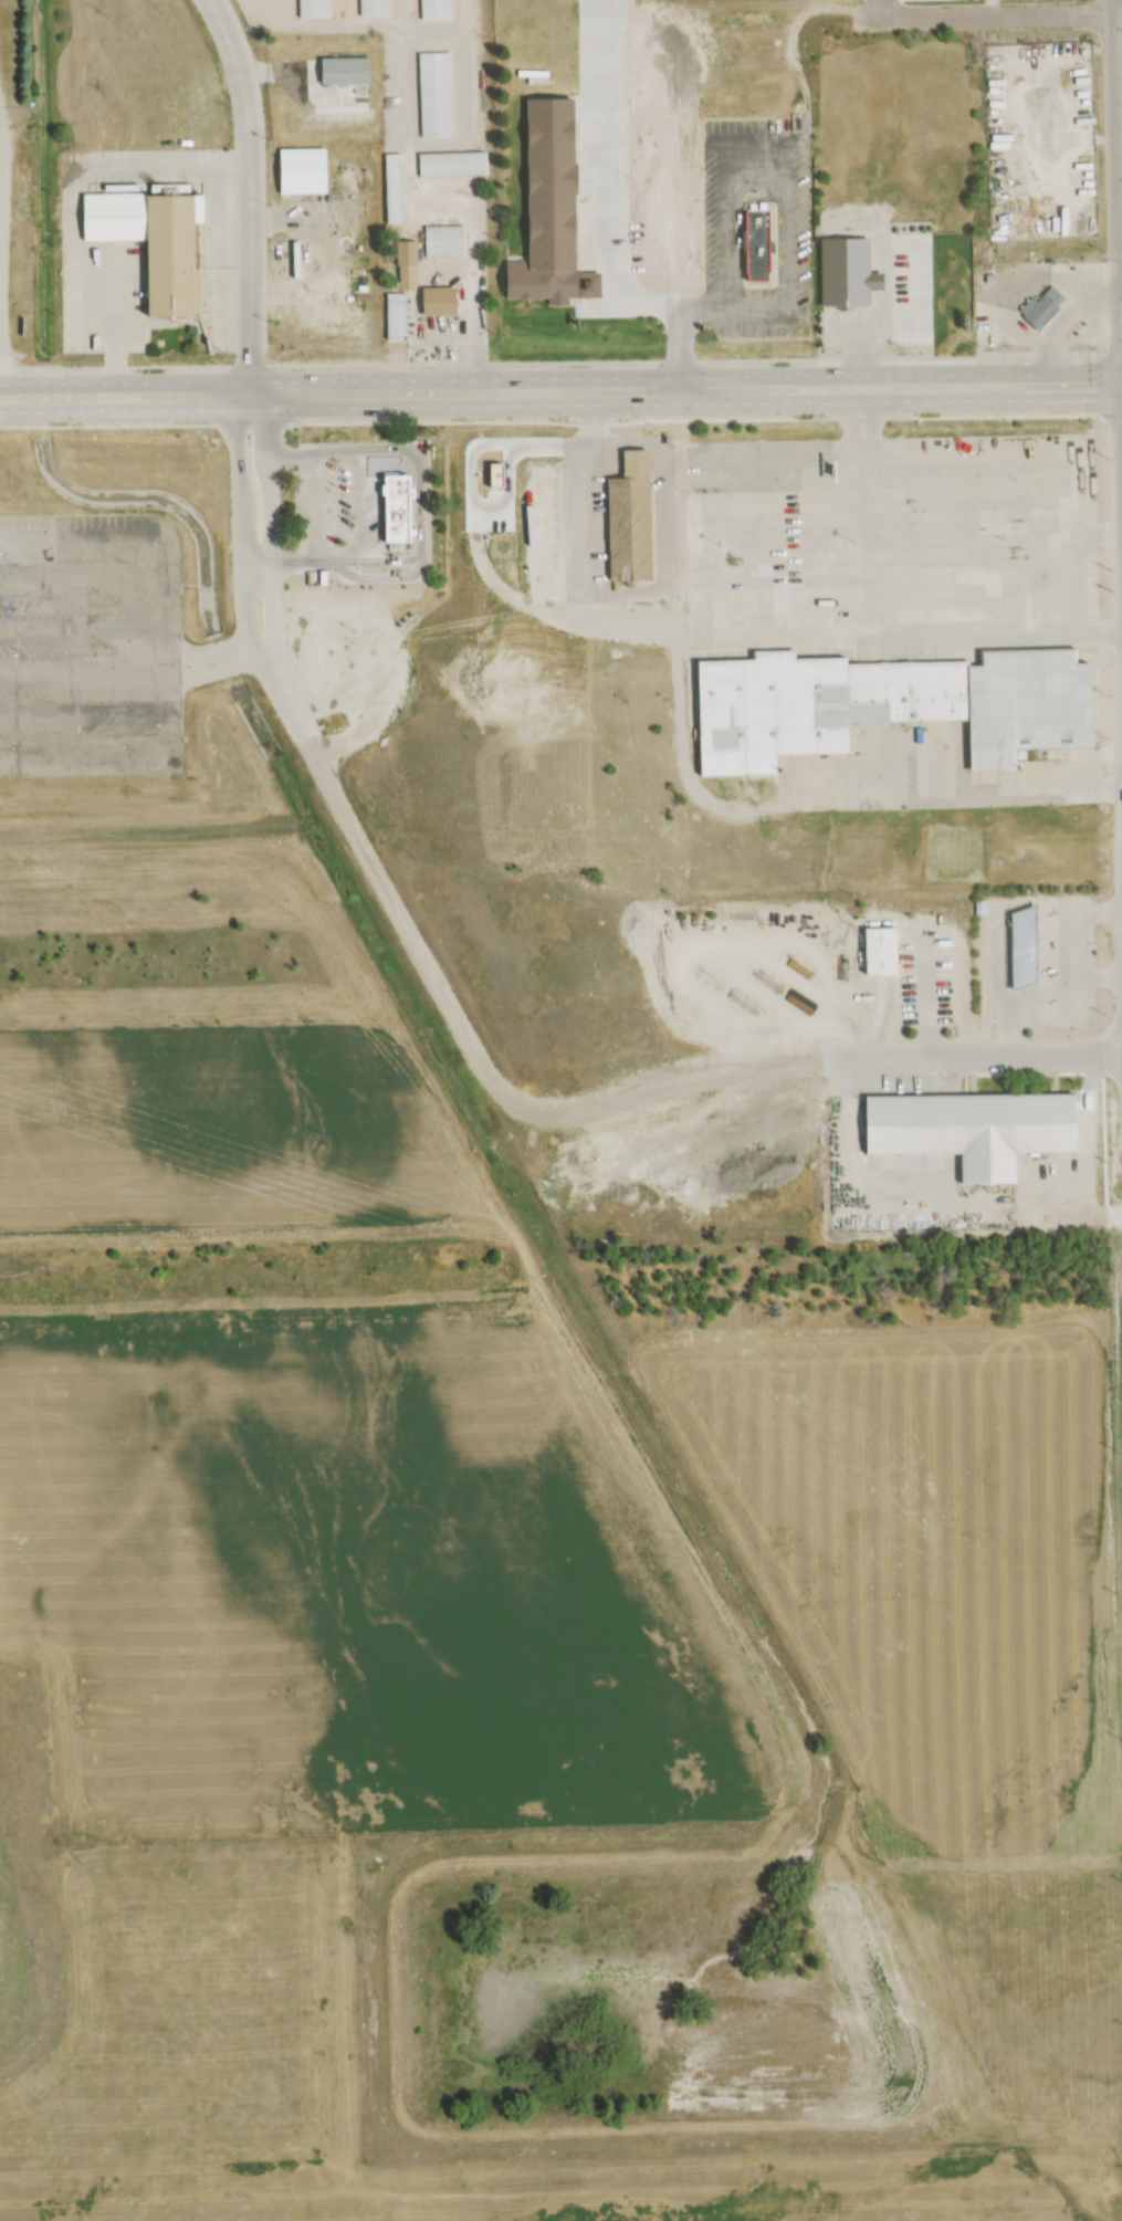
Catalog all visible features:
building: (373, 7)
building: (313, 8)
road: (990, 8)
road: (877, 9)
building: (433, 10)
road: (985, 17)
building: (345, 71)
building: (434, 94)
road: (1116, 132)
building: (943, 133)
building: (451, 164)
building: (302, 171)
road: (247, 186)
building: (392, 190)
building: (556, 210)
building: (155, 240)
building: (443, 241)
road: (0, 253)
building: (761, 256)
building: (407, 265)
building: (849, 271)
building: (439, 301)
building: (1040, 310)
building: (950, 312)
building: (395, 316)
street lamp: (912, 353)
street lamp: (733, 354)
street lamp: (558, 358)
street lamp: (382, 359)
street lamp: (210, 362)
street lamp: (29, 364)
road: (560, 378)
street lamp: (1006, 419)
street lamp: (821, 421)
street lamp: (648, 422)
street lamp: (468, 426)
street lamp: (303, 428)
street lamp: (124, 430)
street lamp: (1108, 458)
building: (638, 460)
building: (397, 507)
road: (266, 515)
road: (238, 520)
building: (630, 526)
street lamp: (220, 545)
street lamp: (126, 563)
street lamp: (14, 564)
road: (863, 632)
parking lot: (78, 641)
street lamp: (111, 649)
street lamp: (15, 650)
road: (213, 653)
street lamp: (191, 668)
road: (218, 670)
road: (84, 677)
road: (290, 705)
building: (816, 705)
building: (1030, 705)
street lamp: (126, 744)
street lamp: (18, 746)
building: (977, 905)
road: (405, 931)
building: (1025, 946)
building: (878, 951)
road: (972, 1057)
road: (661, 1085)
building: (971, 1130)

